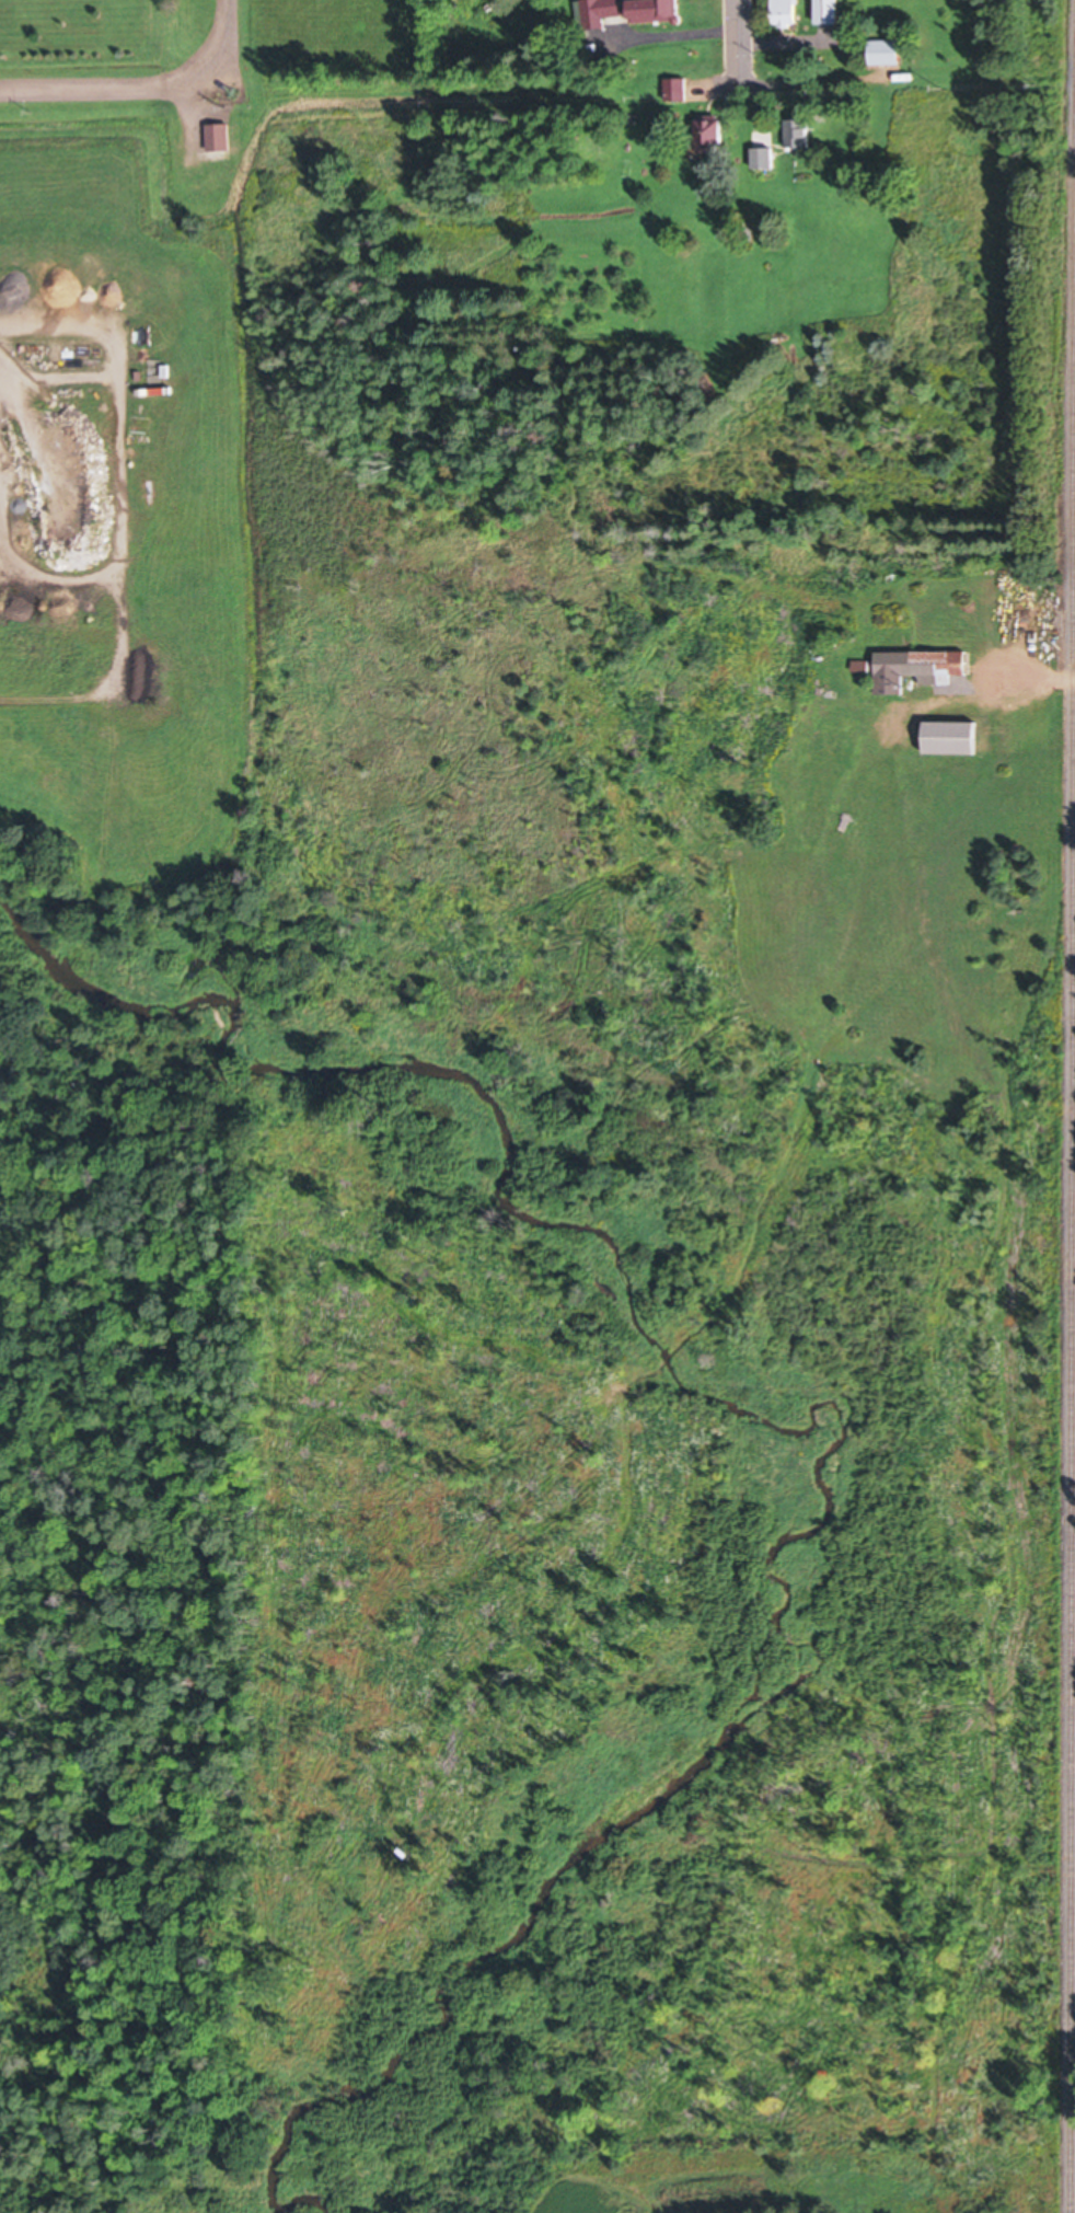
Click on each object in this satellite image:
road: (741, 7)
building: (660, 10)
building: (833, 11)
building: (789, 13)
park: (102, 36)
road: (222, 36)
road: (741, 47)
building: (889, 50)
road: (103, 87)
building: (679, 89)
road: (190, 120)
building: (802, 132)
building: (714, 136)
building: (222, 137)
building: (926, 142)
building: (766, 155)
building: (959, 160)
building: (92, 266)
building: (921, 666)
road: (1032, 677)
building: (957, 736)
railway: (1073, 1637)

